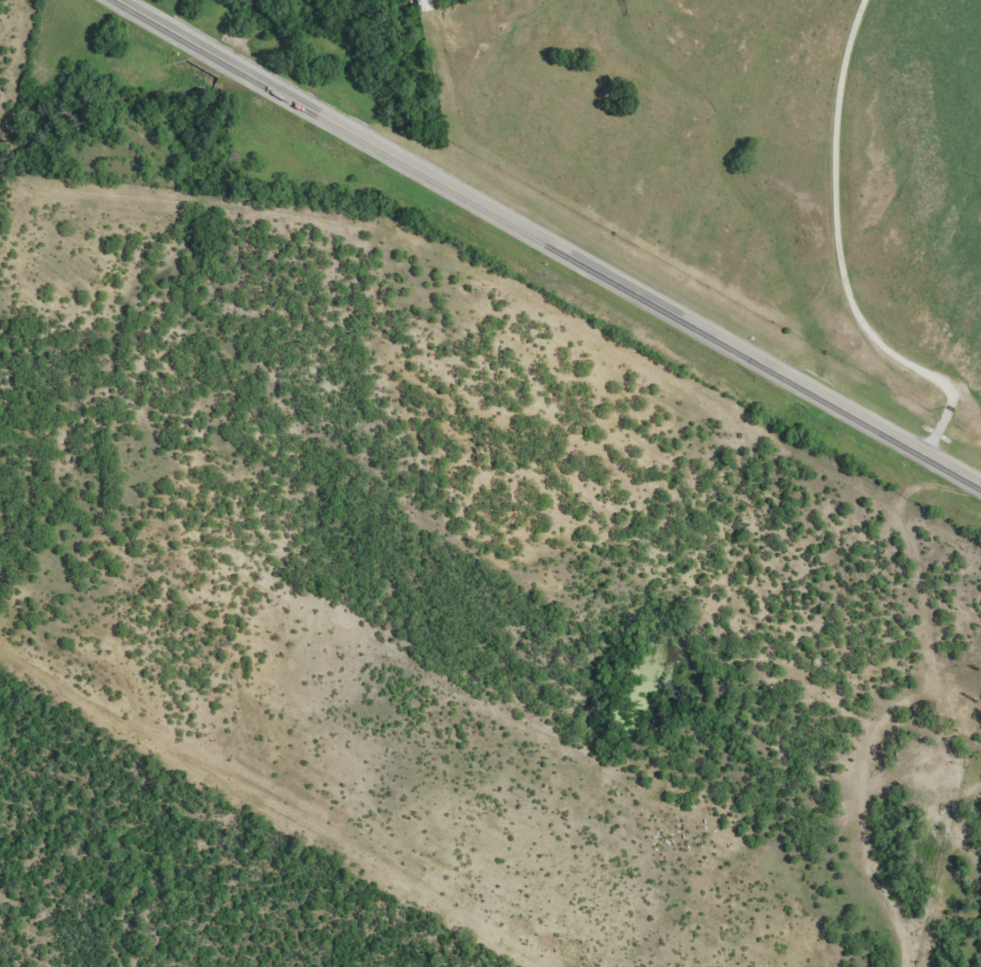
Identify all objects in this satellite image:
road: (552, 239)
road: (836, 250)

